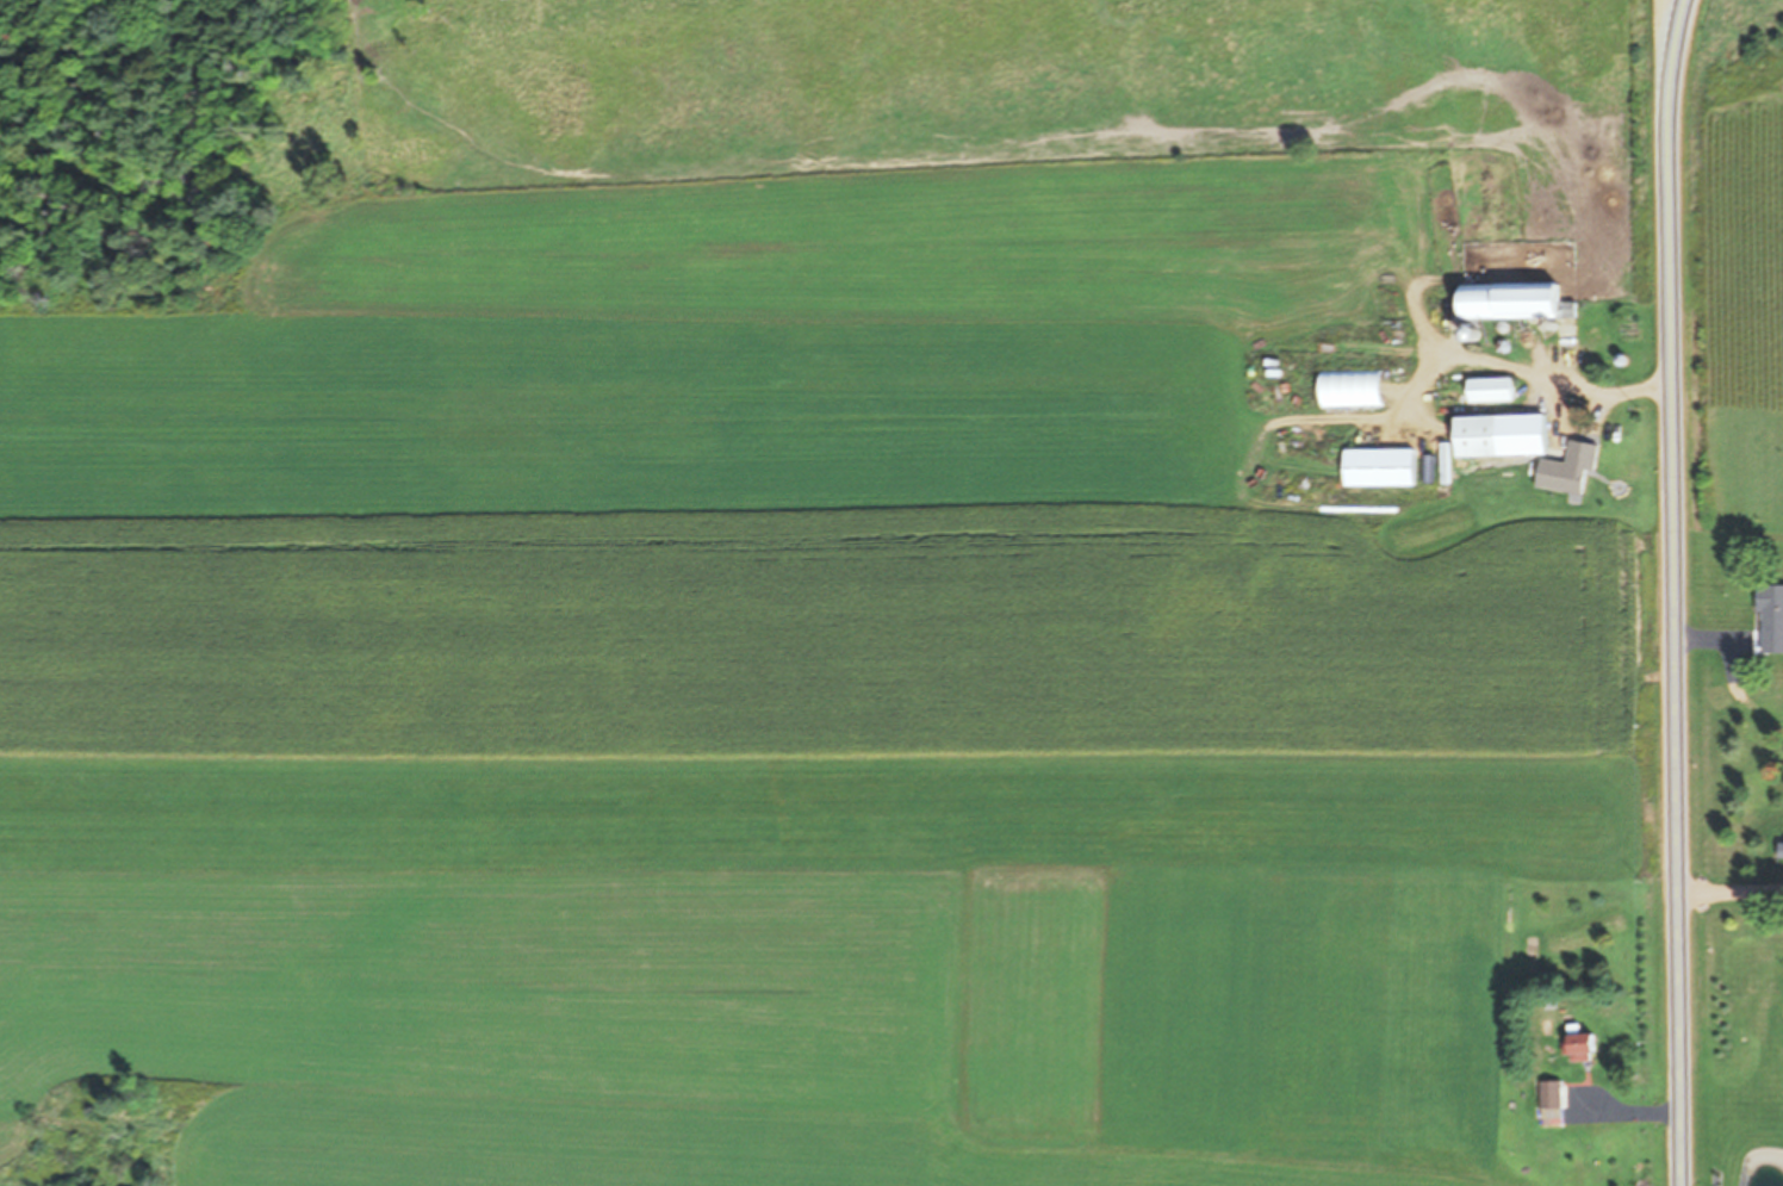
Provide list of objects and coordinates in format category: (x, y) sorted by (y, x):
building: (1518, 302)
building: (1493, 390)
building: (1505, 436)
building: (1384, 467)
road: (1672, 591)
building: (1772, 617)
building: (1782, 850)
building: (1583, 1045)
building: (1554, 1101)

